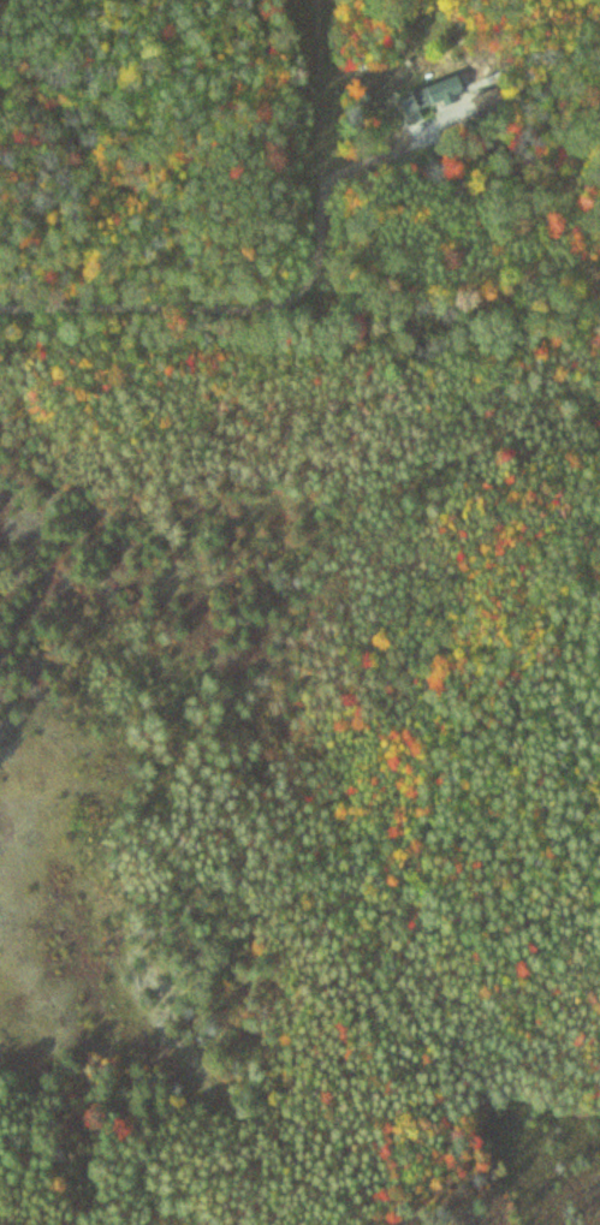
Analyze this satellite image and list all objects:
building: (481, 99)
building: (409, 100)
road: (40, 150)
road: (333, 189)
road: (125, 322)

